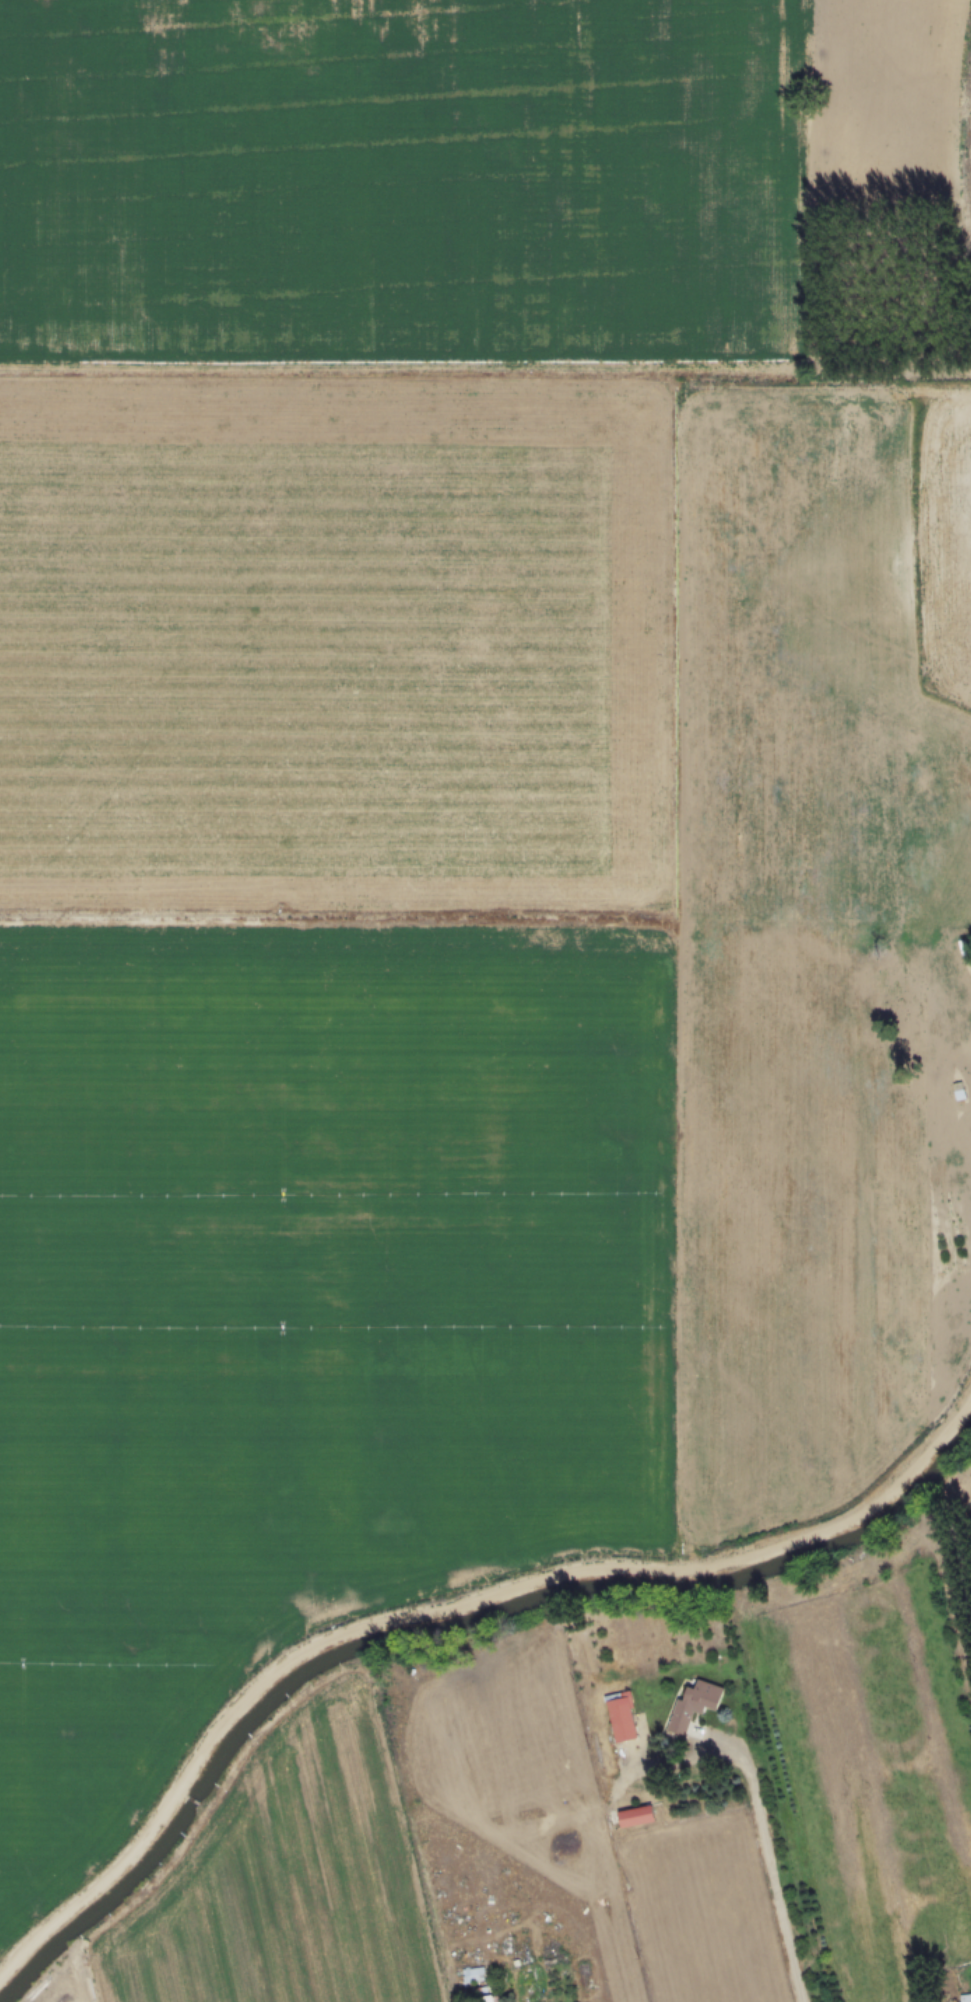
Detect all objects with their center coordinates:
road: (341, 358)
road: (776, 617)
road: (367, 899)
road: (445, 1609)
building: (692, 1704)
building: (621, 1717)
building: (634, 1816)
road: (779, 1859)
building: (472, 1974)
building: (488, 1999)

